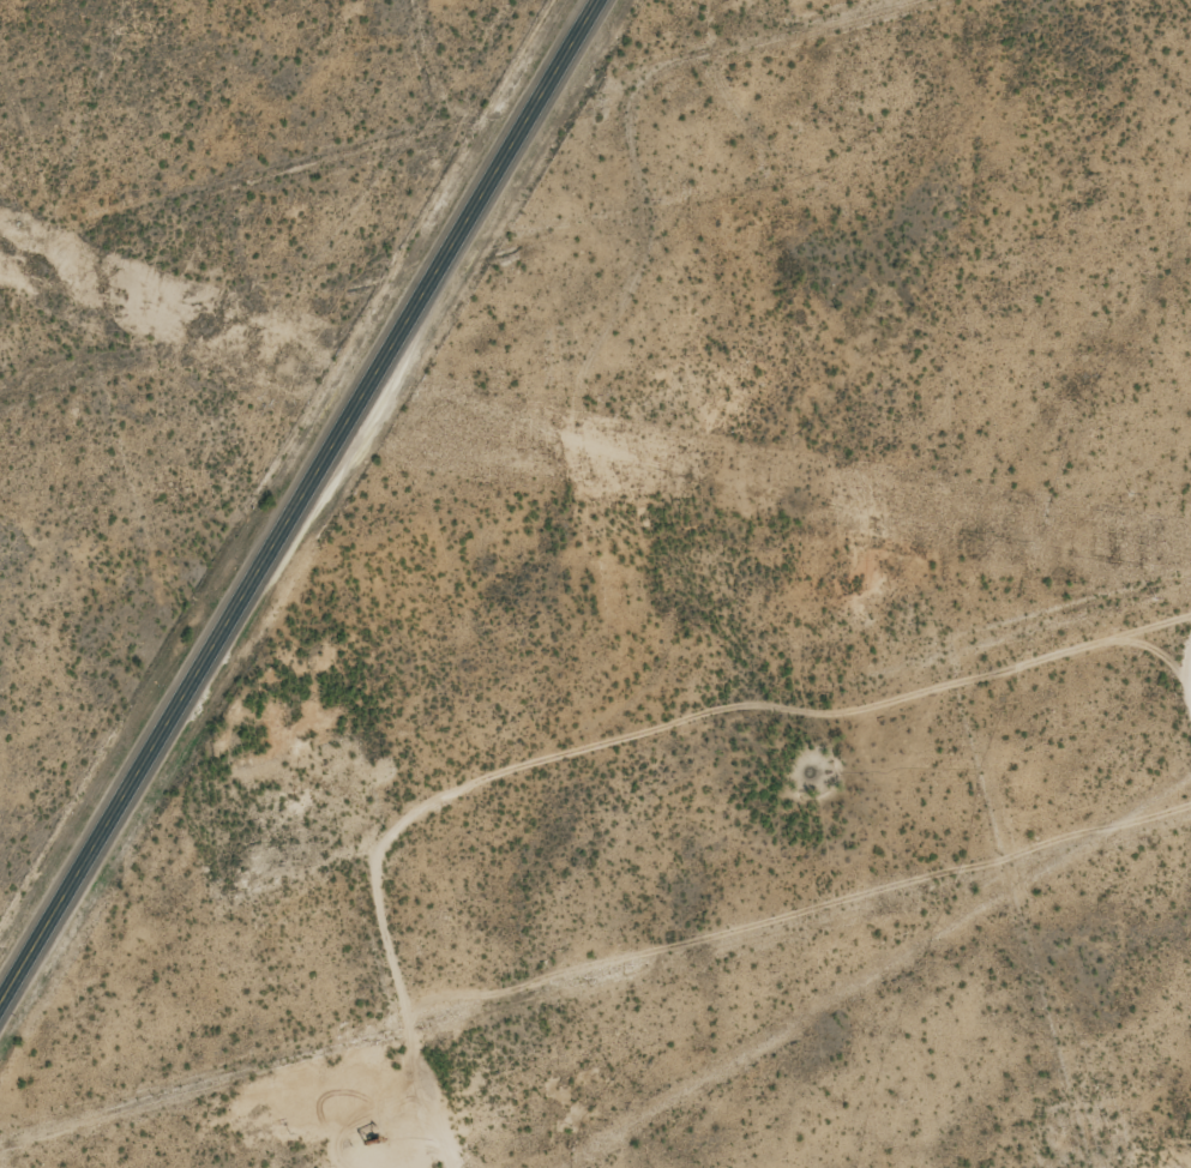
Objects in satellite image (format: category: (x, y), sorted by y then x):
road: (764, 62)
road: (404, 143)
road: (301, 506)

